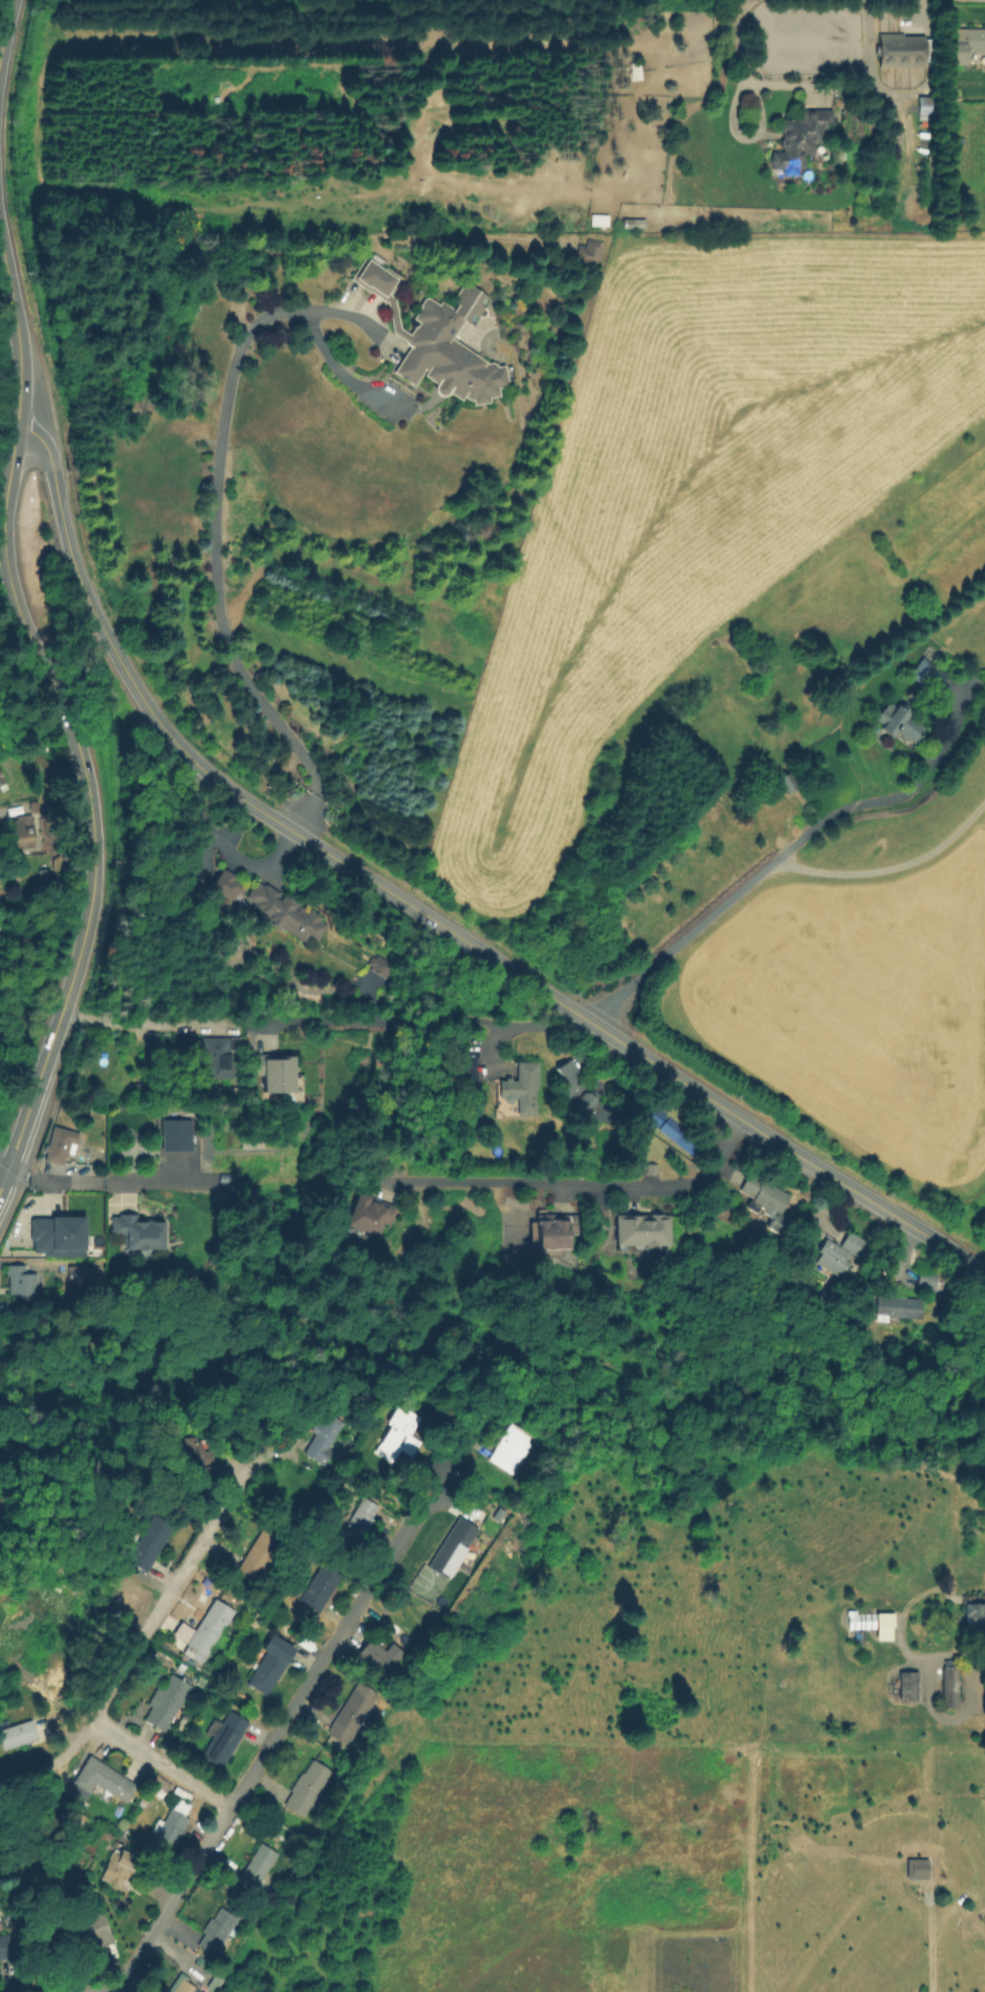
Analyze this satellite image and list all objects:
road: (4, 21)
building: (965, 44)
building: (905, 51)
building: (634, 74)
road: (802, 86)
building: (926, 109)
building: (801, 140)
building: (599, 222)
building: (633, 225)
building: (590, 250)
building: (379, 282)
building: (447, 349)
road: (15, 356)
road: (214, 493)
building: (929, 677)
building: (898, 726)
road: (72, 738)
building: (0, 778)
building: (0, 781)
building: (788, 783)
building: (24, 832)
road: (219, 846)
road: (779, 852)
building: (224, 884)
road: (422, 914)
building: (283, 919)
building: (1, 925)
building: (376, 965)
road: (420, 1020)
road: (147, 1023)
building: (153, 1038)
building: (215, 1059)
building: (276, 1079)
building: (523, 1089)
building: (229, 1091)
building: (580, 1094)
road: (34, 1095)
building: (673, 1129)
building: (178, 1135)
building: (59, 1146)
building: (652, 1169)
road: (4, 1172)
road: (105, 1180)
road: (4, 1184)
road: (595, 1185)
building: (765, 1200)
building: (367, 1219)
building: (142, 1230)
building: (641, 1234)
building: (55, 1235)
building: (551, 1236)
building: (841, 1254)
building: (78, 1274)
building: (22, 1280)
building: (927, 1283)
building: (897, 1309)
building: (403, 1434)
building: (324, 1437)
building: (512, 1449)
building: (191, 1454)
building: (358, 1523)
building: (150, 1543)
building: (453, 1548)
building: (255, 1554)
building: (320, 1588)
road: (165, 1603)
building: (975, 1616)
building: (858, 1623)
building: (883, 1626)
building: (180, 1631)
building: (208, 1631)
building: (375, 1658)
building: (271, 1666)
building: (909, 1684)
building: (950, 1685)
building: (167, 1701)
building: (351, 1717)
building: (18, 1736)
building: (171, 1738)
building: (224, 1739)
road: (272, 1741)
road: (52, 1764)
road: (162, 1770)
building: (104, 1779)
building: (158, 1782)
building: (308, 1789)
building: (169, 1830)
building: (118, 1867)
building: (258, 1867)
building: (915, 1869)
building: (87, 1930)
building: (217, 1932)
building: (6, 1947)
building: (208, 1986)
building: (185, 1987)

